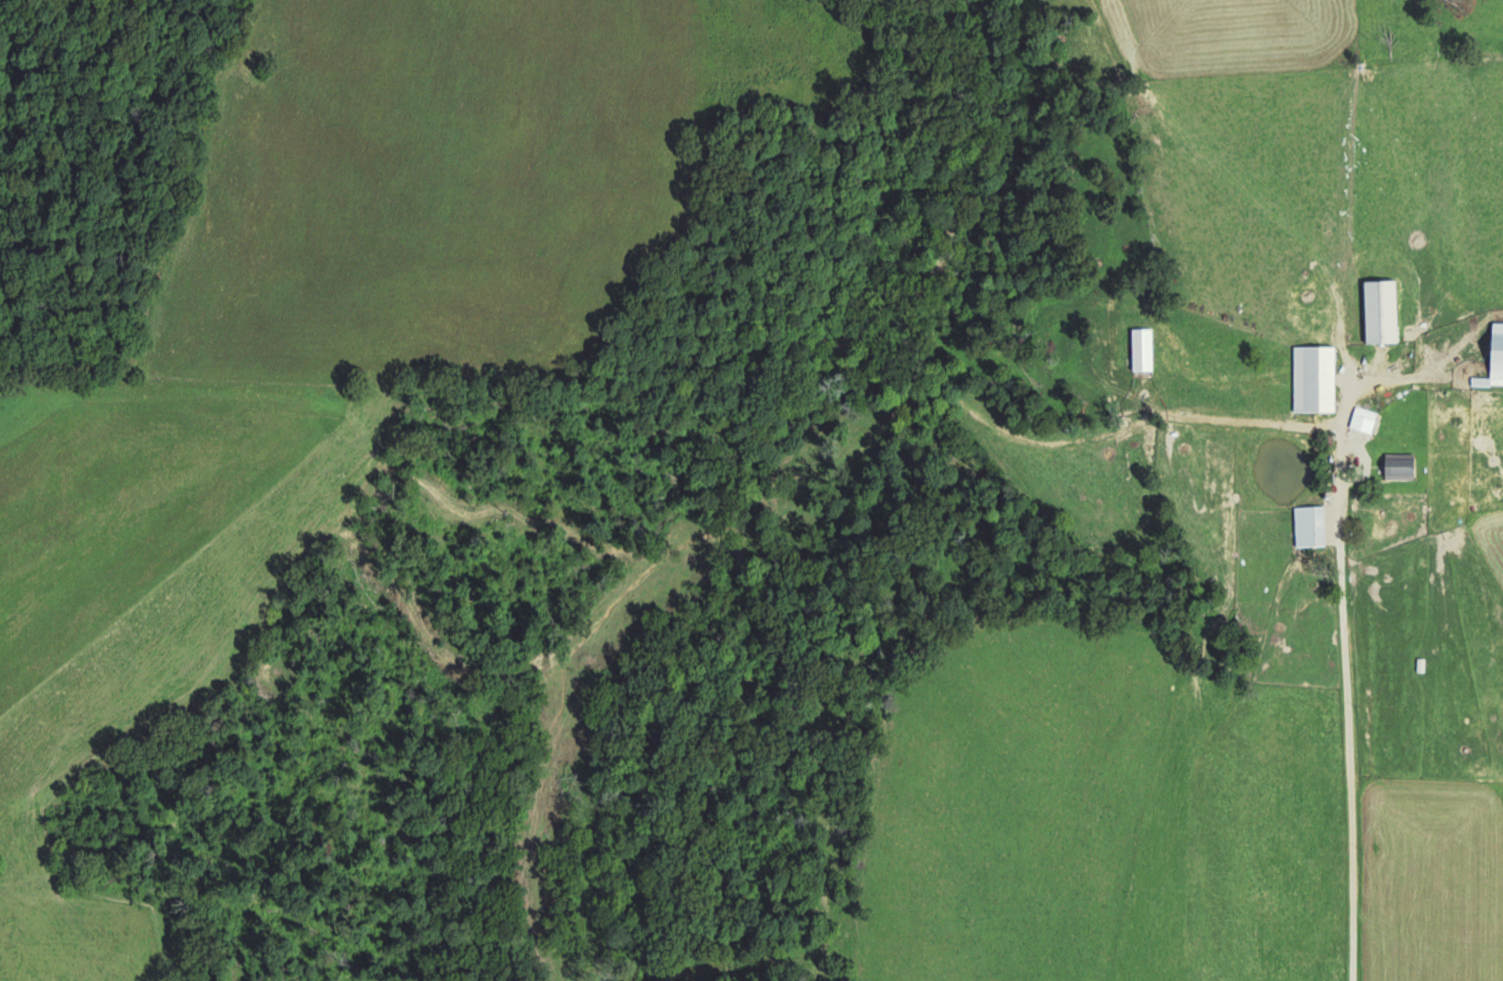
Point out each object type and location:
building: (1377, 310)
building: (1492, 355)
building: (1311, 378)
building: (1360, 419)
building: (1393, 464)
building: (1306, 525)
road: (1360, 700)

